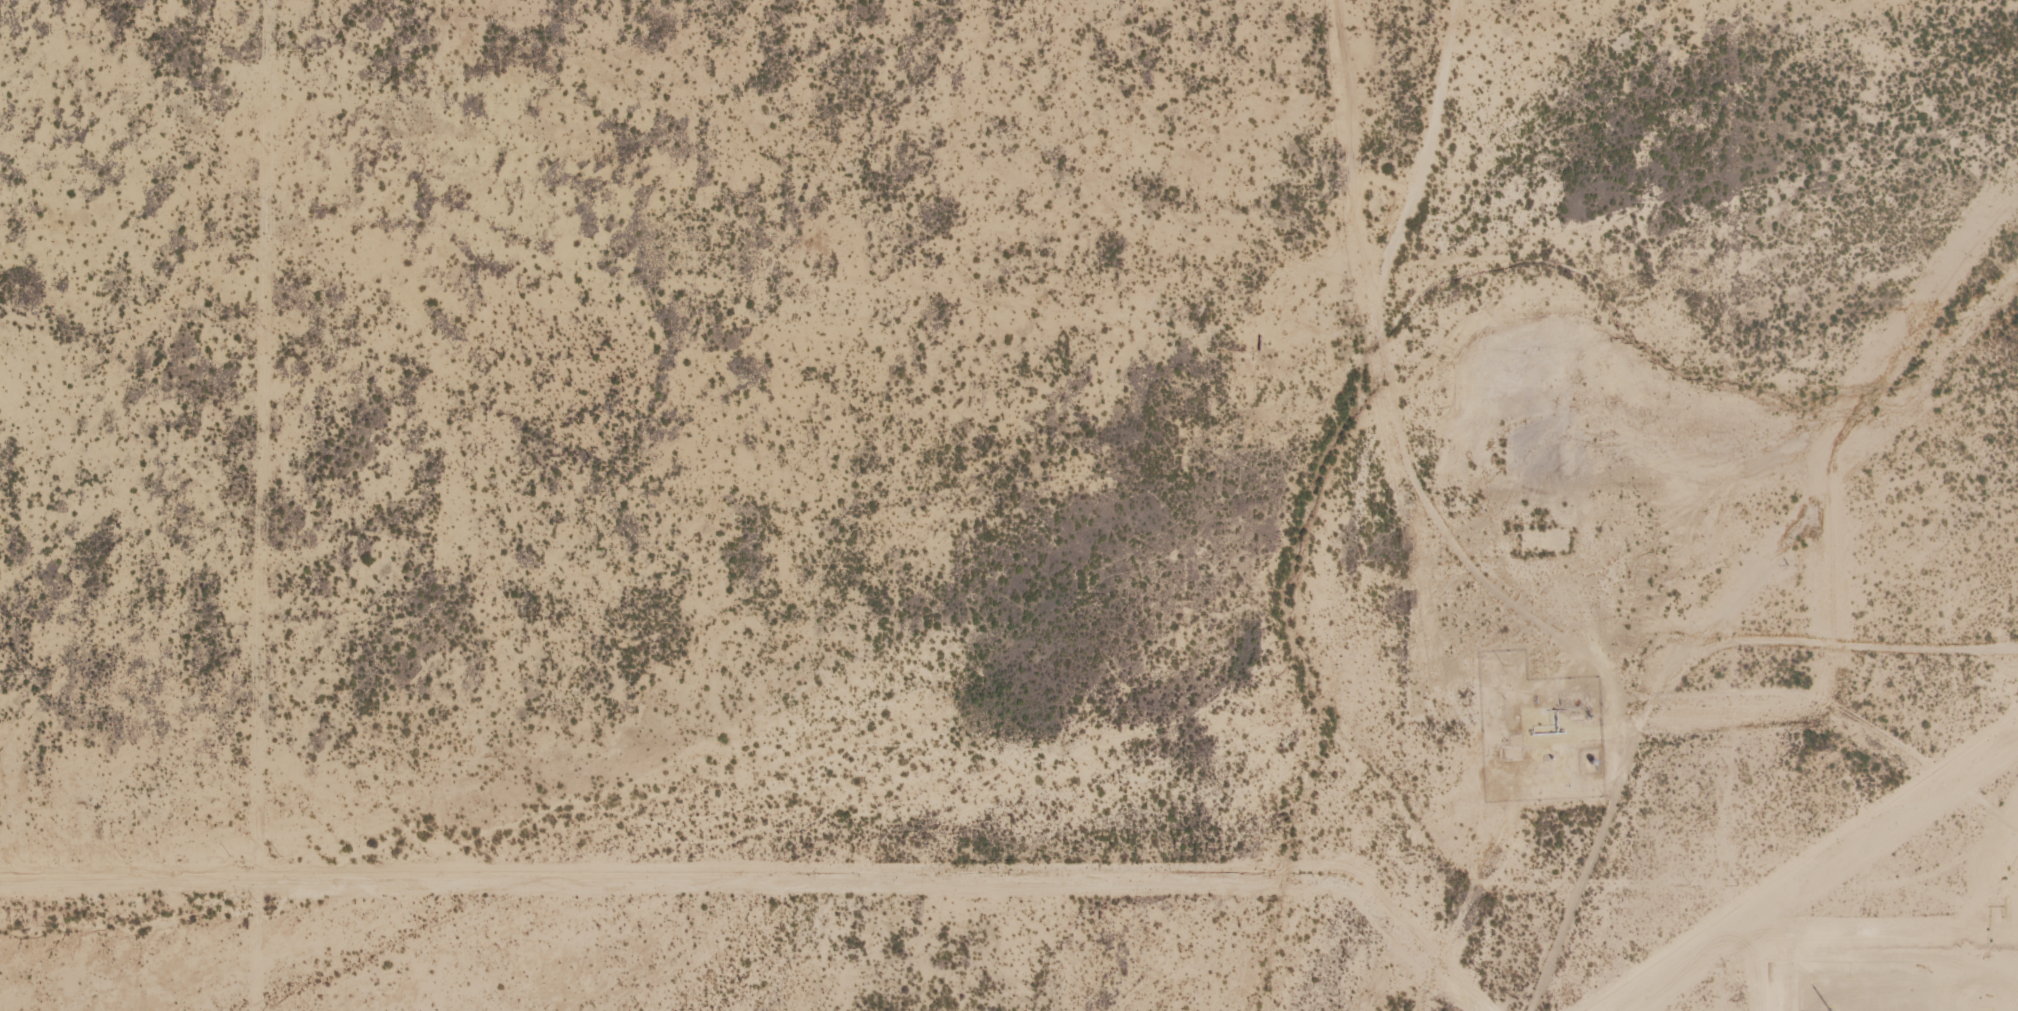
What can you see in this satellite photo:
road: (1405, 168)
road: (1370, 510)
road: (1672, 646)
road: (1308, 753)

